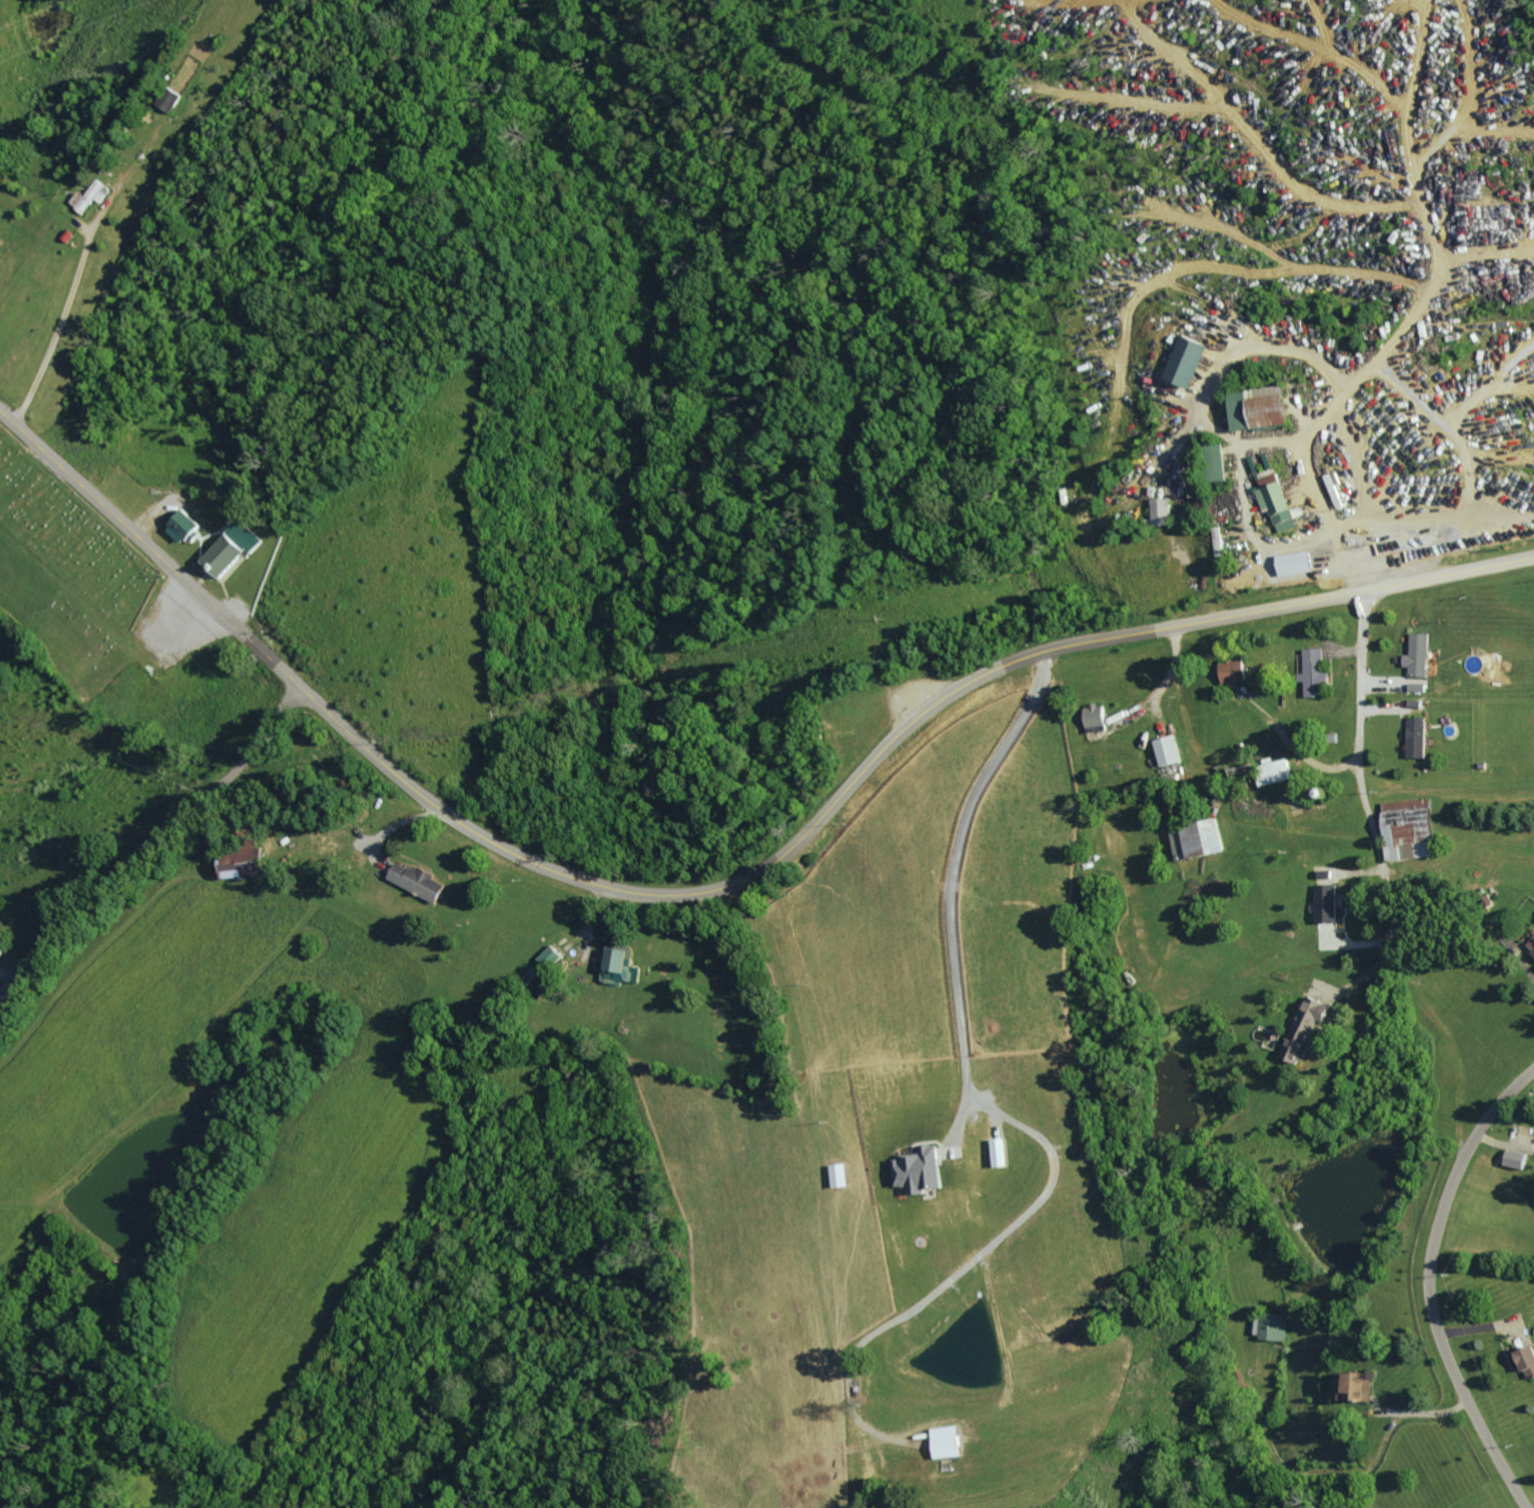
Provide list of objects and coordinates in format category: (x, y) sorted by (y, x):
building: (173, 99)
building: (94, 196)
road: (64, 329)
road: (1447, 345)
building: (1191, 361)
building: (1271, 408)
building: (1222, 462)
building: (1336, 489)
building: (1279, 501)
building: (1161, 511)
building: (187, 526)
building: (1218, 545)
building: (237, 548)
park: (66, 573)
building: (1420, 656)
building: (1235, 672)
building: (1317, 674)
road: (1161, 682)
building: (1419, 688)
building: (1098, 718)
road: (1359, 729)
building: (1418, 738)
building: (1168, 751)
building: (1274, 771)
building: (1411, 826)
building: (1205, 840)
road: (147, 844)
building: (250, 864)
building: (422, 881)
road: (726, 885)
road: (952, 887)
building: (1329, 904)
building: (1532, 947)
building: (1, 952)
building: (554, 956)
building: (625, 965)
building: (1310, 1026)
building: (1005, 1152)
building: (1520, 1159)
building: (922, 1170)
road: (1433, 1286)
building: (1276, 1327)
building: (1527, 1361)
building: (1361, 1385)
road: (1420, 1412)
building: (951, 1441)

